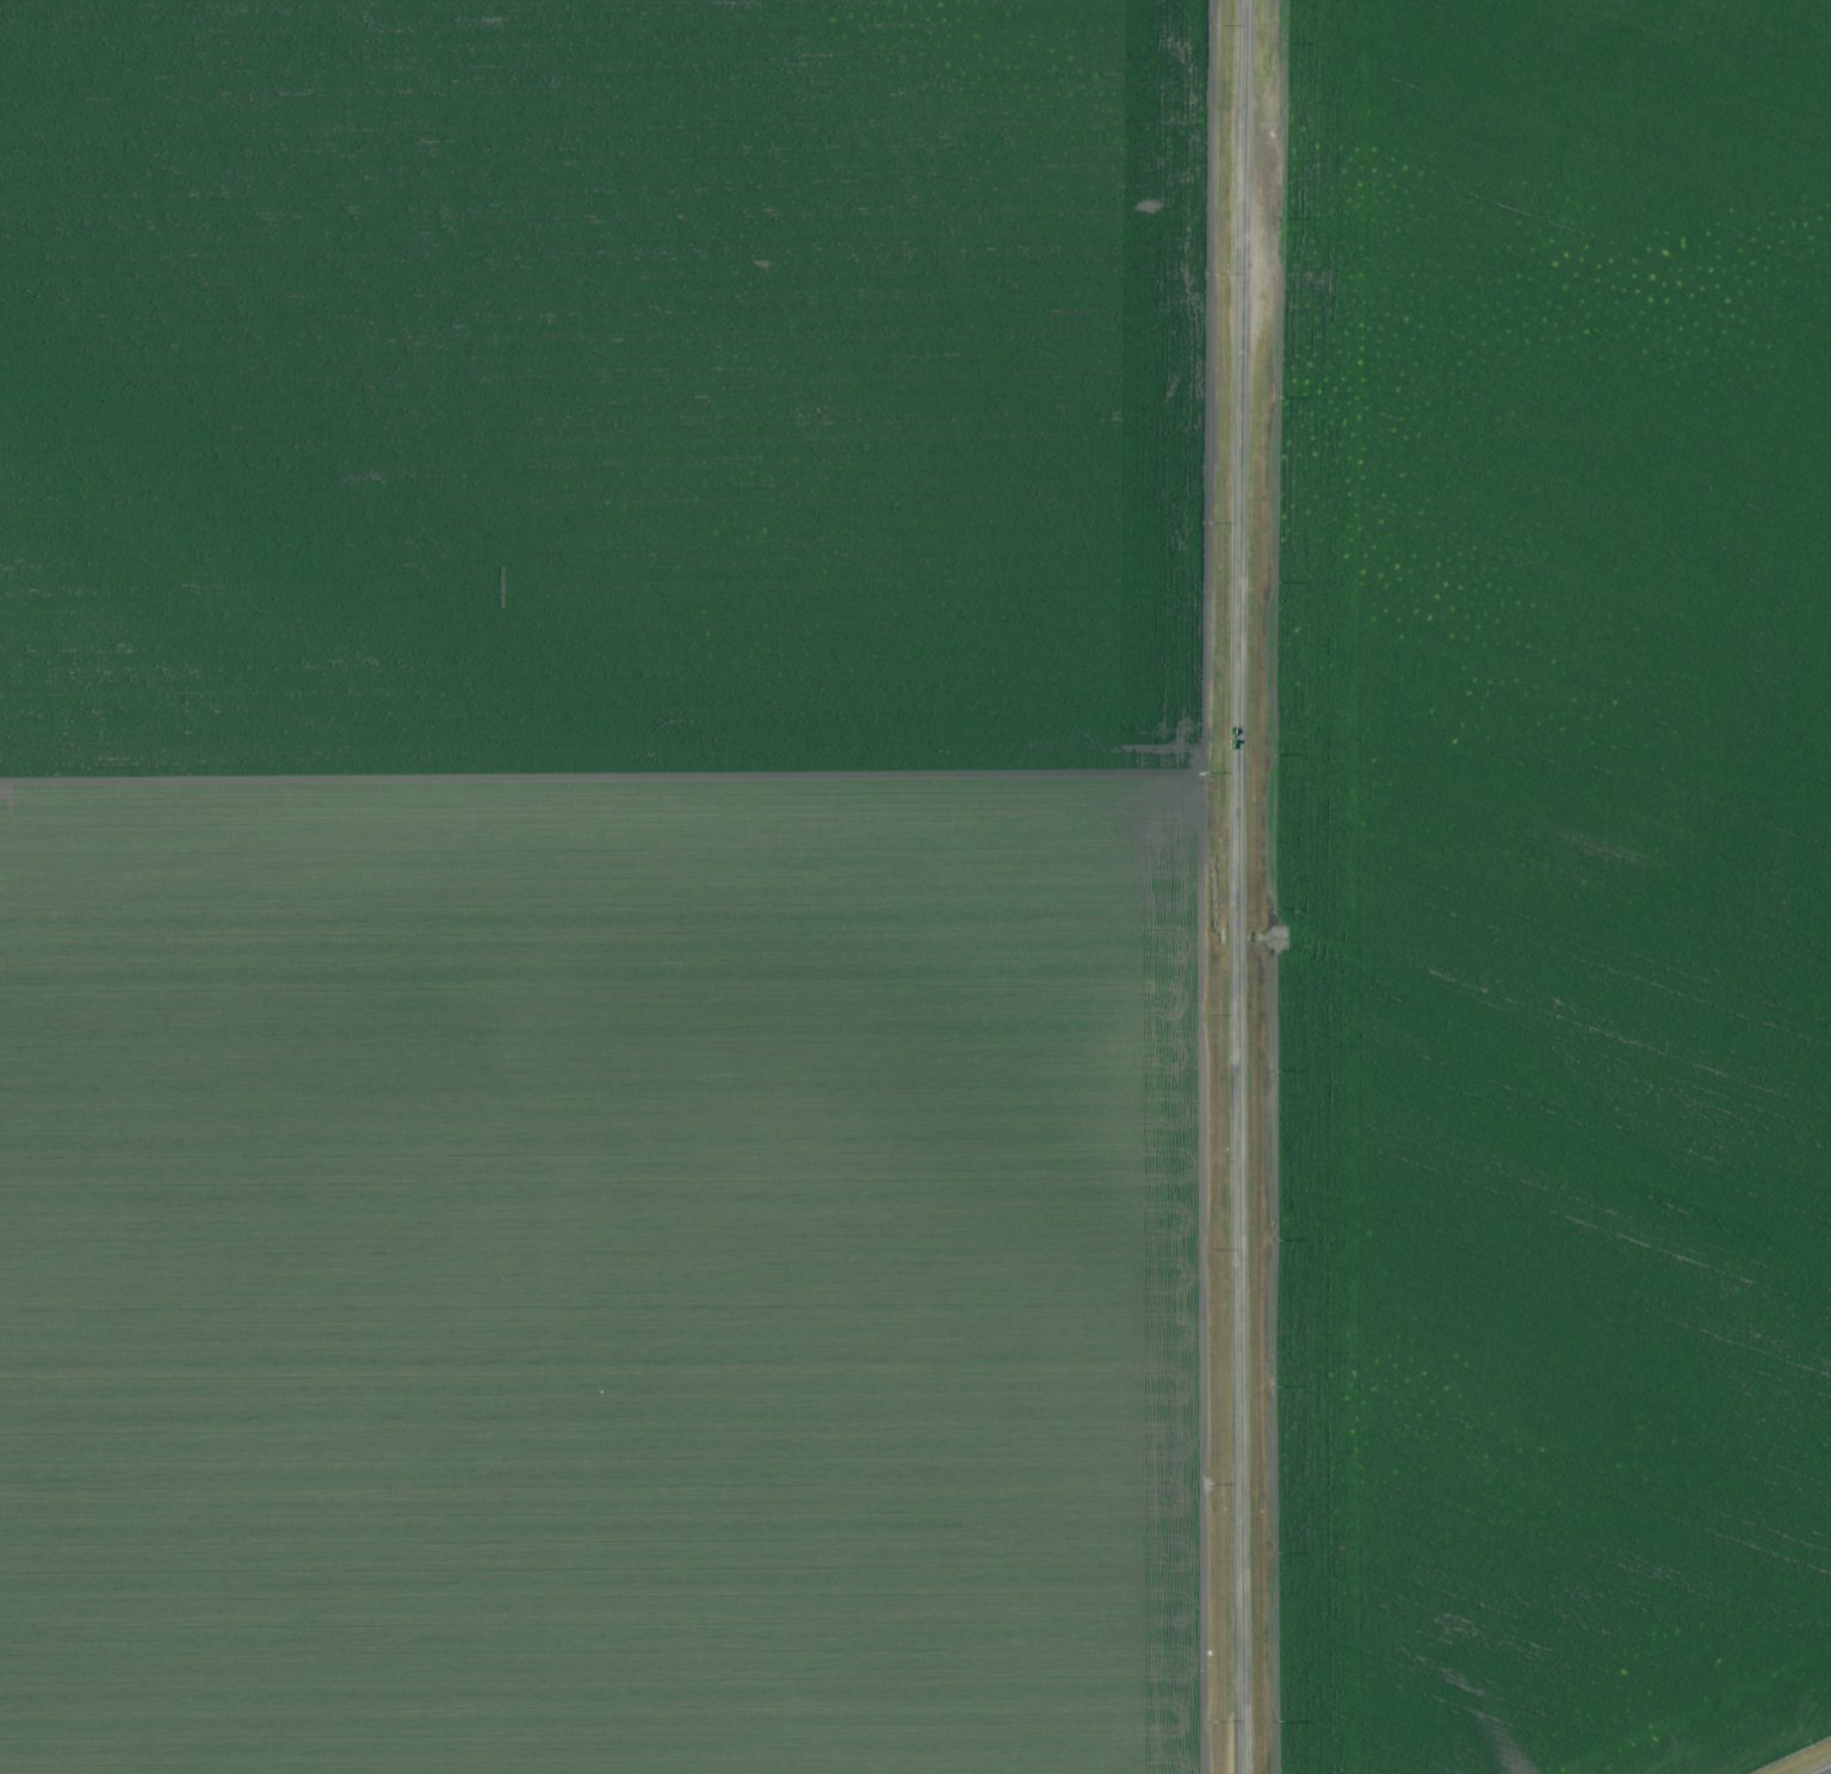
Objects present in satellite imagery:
road: (1239, 886)

